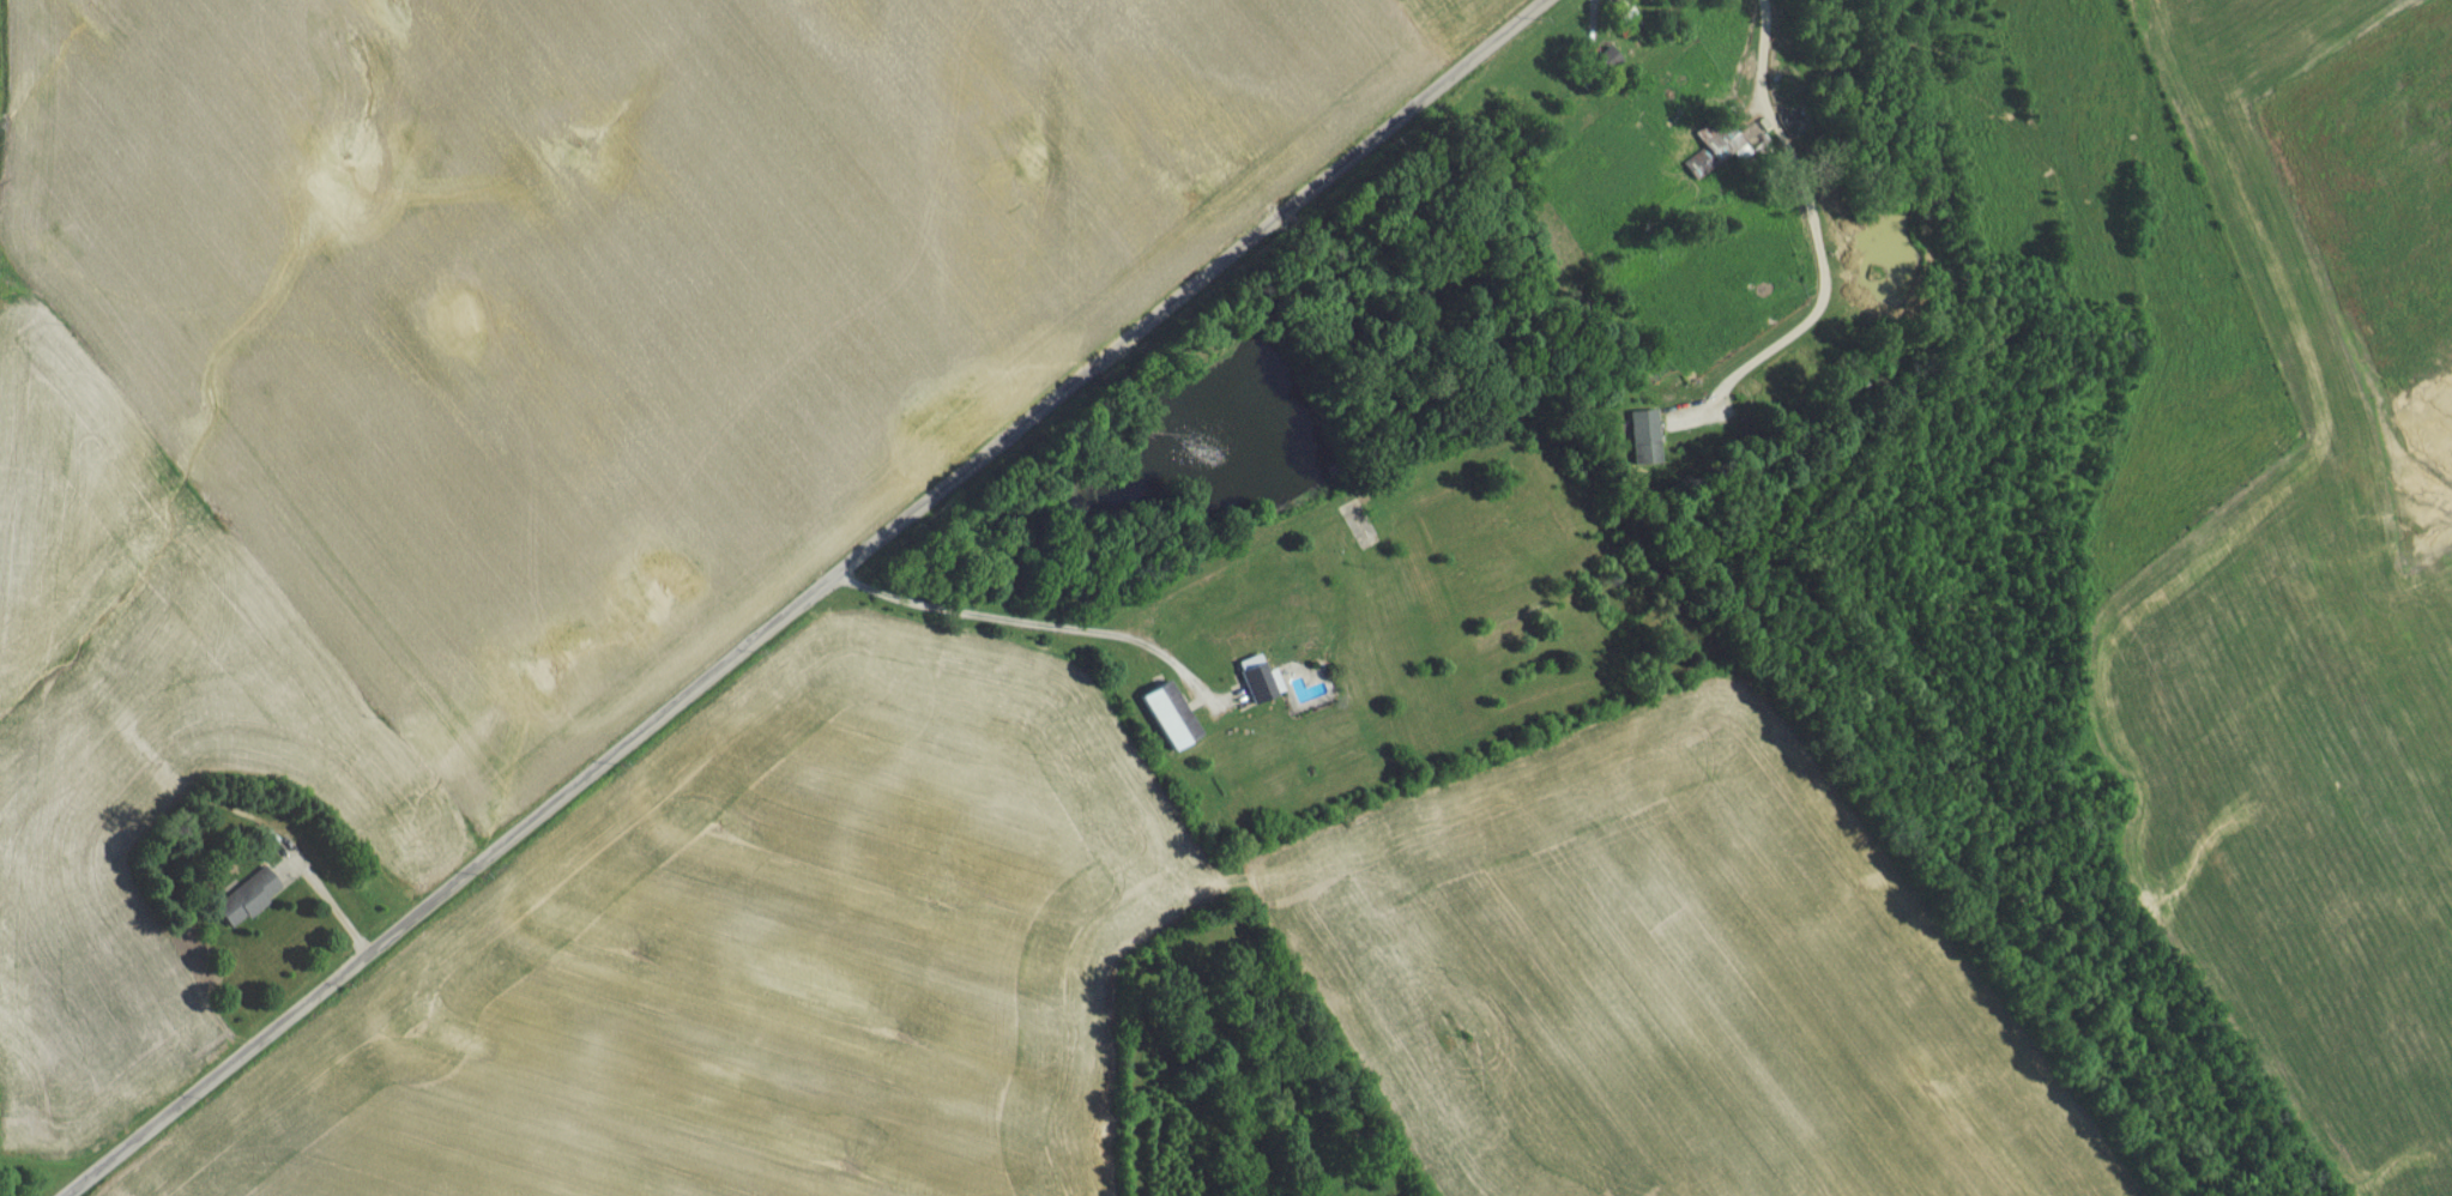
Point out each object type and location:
building: (1689, 2)
building: (1602, 68)
building: (1711, 153)
road: (925, 205)
road: (1817, 240)
road: (817, 597)
road: (1040, 626)
building: (1260, 689)
building: (1166, 724)
building: (243, 906)
road: (686, 936)

